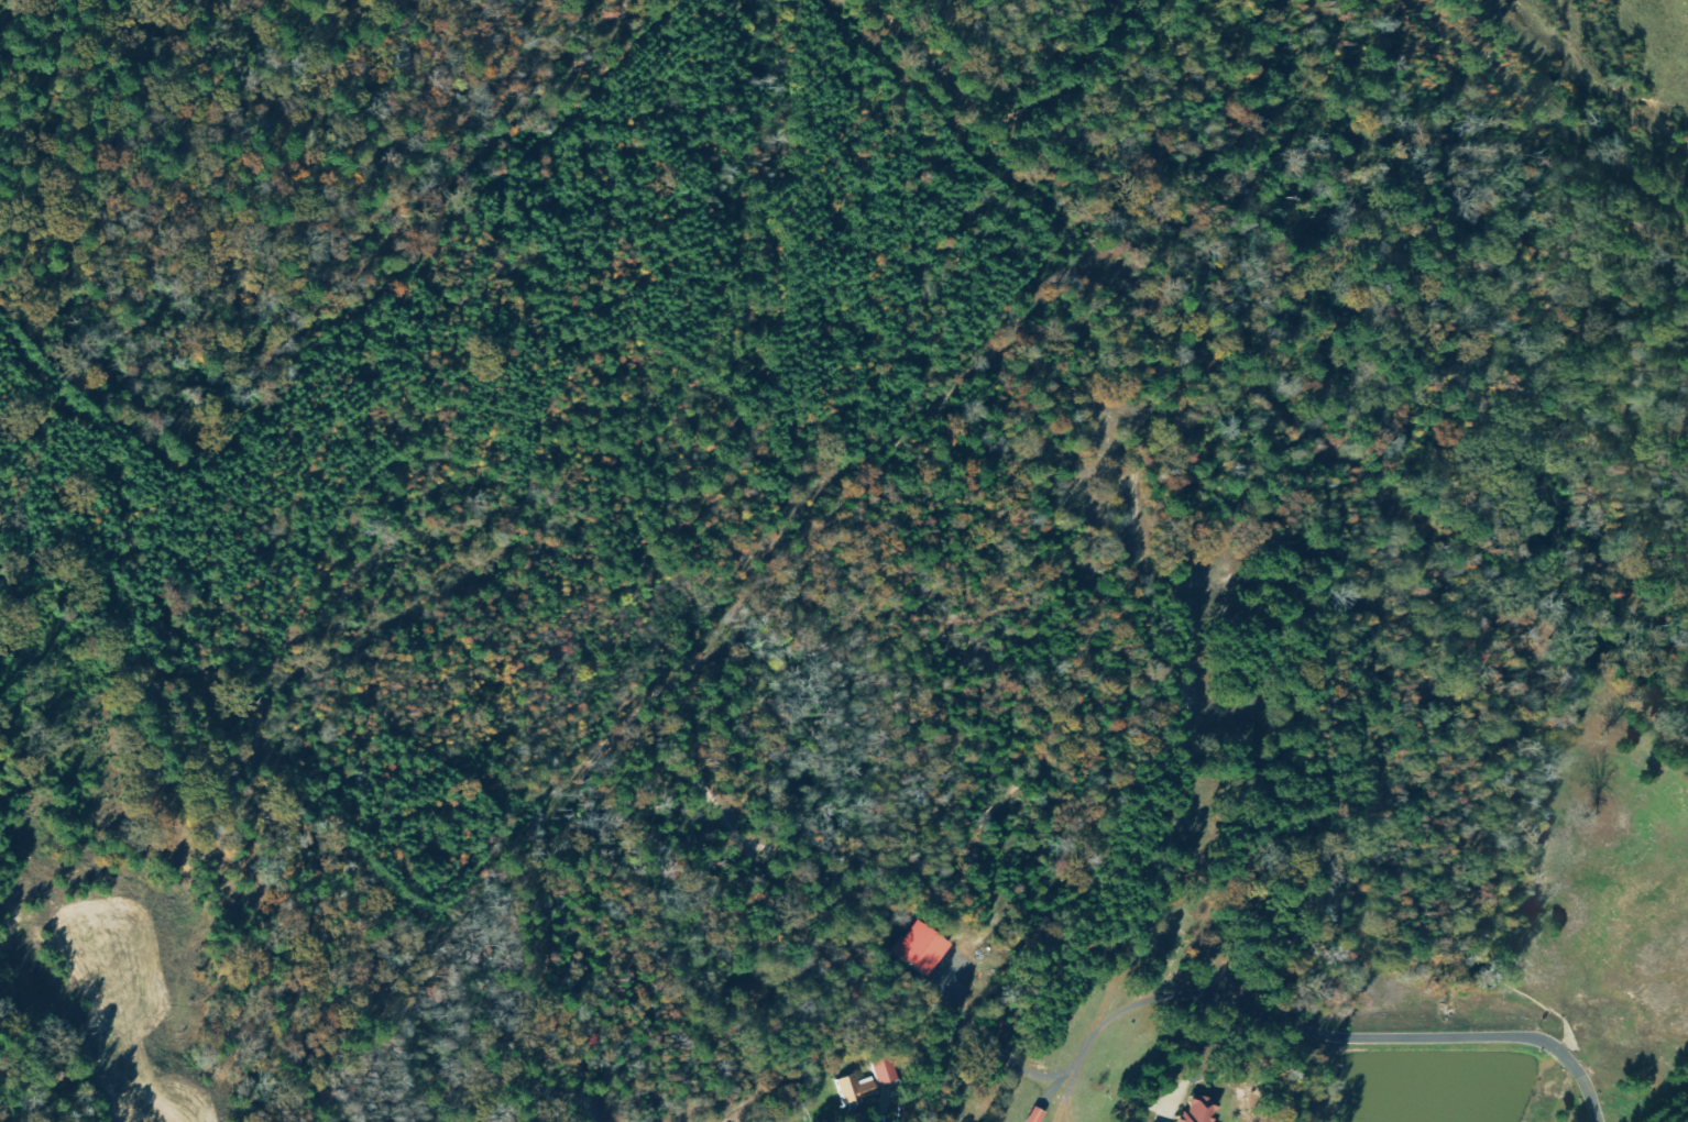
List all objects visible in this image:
road: (1056, 75)
road: (1567, 90)
road: (1138, 732)
road: (87, 777)
building: (924, 949)
building: (1194, 1110)

